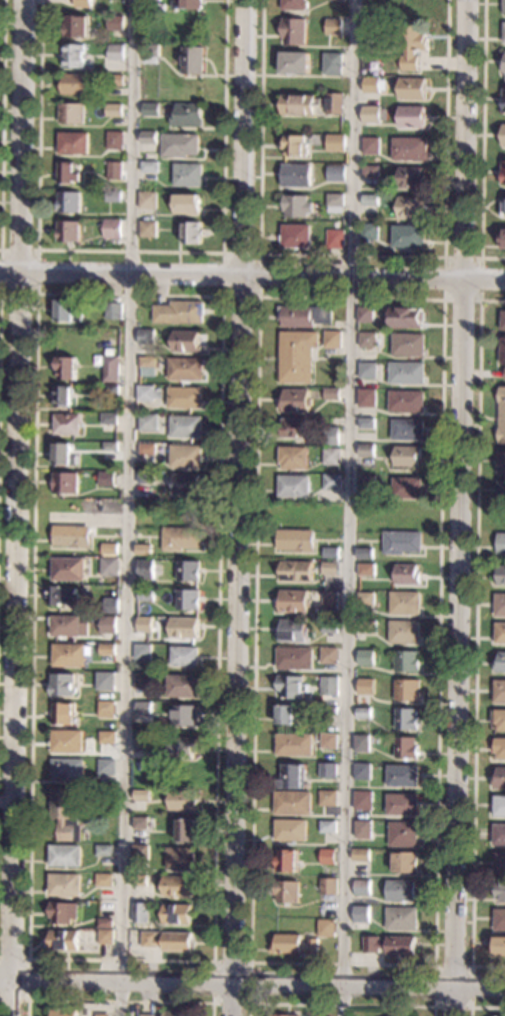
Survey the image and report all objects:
building: (152, 0)
building: (83, 4)
building: (187, 4)
building: (294, 5)
building: (504, 7)
building: (115, 23)
building: (385, 23)
building: (76, 26)
building: (334, 27)
building: (294, 31)
building: (504, 34)
building: (413, 43)
building: (115, 52)
building: (151, 53)
building: (73, 56)
building: (192, 60)
building: (295, 63)
building: (333, 64)
building: (504, 66)
building: (115, 80)
building: (76, 84)
building: (374, 85)
building: (413, 89)
building: (503, 100)
building: (299, 104)
building: (334, 104)
building: (114, 110)
building: (150, 110)
building: (71, 113)
building: (374, 114)
building: (187, 115)
building: (412, 117)
road: (2, 125)
building: (503, 135)
building: (148, 137)
road: (484, 139)
building: (115, 140)
building: (73, 143)
building: (335, 143)
building: (180, 145)
building: (371, 145)
building: (295, 146)
building: (410, 149)
building: (149, 167)
building: (114, 170)
building: (371, 171)
building: (336, 173)
building: (503, 173)
building: (68, 174)
building: (188, 175)
building: (296, 175)
building: (412, 177)
building: (114, 196)
building: (148, 200)
building: (370, 200)
building: (69, 202)
building: (335, 203)
building: (187, 204)
building: (297, 206)
building: (411, 207)
building: (503, 209)
building: (112, 229)
building: (148, 229)
building: (68, 231)
building: (370, 231)
building: (192, 233)
building: (296, 236)
building: (409, 236)
building: (335, 239)
building: (503, 239)
road: (132, 250)
road: (259, 254)
road: (354, 255)
road: (482, 257)
road: (252, 275)
road: (37, 292)
road: (221, 296)
road: (443, 299)
building: (69, 311)
building: (113, 311)
building: (179, 313)
building: (366, 315)
building: (305, 316)
building: (406, 316)
building: (503, 321)
building: (145, 337)
building: (333, 339)
building: (368, 339)
building: (186, 341)
building: (408, 344)
building: (502, 350)
building: (297, 356)
building: (147, 366)
building: (66, 368)
building: (110, 369)
building: (185, 369)
building: (368, 370)
building: (407, 373)
building: (111, 389)
building: (148, 393)
building: (332, 394)
building: (63, 396)
building: (184, 397)
building: (367, 397)
building: (296, 401)
building: (407, 402)
building: (502, 415)
building: (108, 418)
building: (148, 422)
building: (367, 423)
building: (67, 424)
building: (186, 427)
building: (295, 428)
building: (408, 429)
building: (332, 436)
building: (110, 446)
building: (147, 449)
building: (367, 450)
building: (64, 455)
building: (186, 456)
building: (332, 456)
building: (408, 456)
building: (293, 457)
building: (502, 462)
building: (107, 478)
building: (145, 478)
building: (367, 481)
building: (333, 482)
building: (65, 483)
building: (186, 485)
building: (293, 486)
building: (407, 488)
building: (502, 491)
road: (129, 507)
road: (237, 507)
road: (16, 508)
road: (350, 508)
road: (464, 508)
building: (72, 536)
building: (181, 538)
building: (296, 540)
building: (402, 542)
building: (501, 543)
building: (109, 549)
building: (143, 550)
building: (331, 552)
building: (365, 554)
building: (110, 567)
building: (330, 568)
building: (68, 569)
building: (145, 569)
building: (367, 570)
building: (188, 571)
building: (295, 571)
building: (408, 574)
building: (501, 575)
building: (145, 595)
building: (62, 596)
building: (366, 599)
building: (187, 600)
building: (330, 600)
building: (293, 602)
building: (405, 603)
building: (110, 605)
building: (500, 605)
building: (108, 621)
building: (144, 624)
building: (68, 627)
building: (330, 627)
building: (368, 627)
building: (184, 628)
building: (293, 630)
building: (404, 632)
building: (500, 633)
road: (476, 638)
building: (106, 649)
building: (142, 652)
building: (68, 655)
building: (329, 655)
building: (184, 656)
building: (366, 657)
building: (295, 659)
building: (407, 661)
building: (500, 662)
building: (108, 668)
building: (104, 681)
building: (143, 681)
building: (330, 682)
building: (62, 685)
building: (182, 686)
building: (291, 687)
building: (366, 687)
building: (407, 690)
building: (499, 691)
building: (143, 708)
building: (106, 709)
building: (330, 710)
building: (363, 712)
building: (62, 713)
building: (184, 715)
building: (285, 715)
building: (407, 719)
building: (500, 719)
building: (107, 737)
building: (143, 740)
building: (328, 741)
building: (67, 742)
building: (361, 743)
building: (293, 745)
building: (182, 748)
building: (406, 748)
building: (500, 748)
building: (106, 767)
building: (67, 770)
building: (327, 771)
building: (362, 771)
building: (402, 776)
building: (291, 777)
building: (499, 778)
building: (141, 795)
building: (328, 798)
building: (182, 800)
building: (363, 800)
building: (292, 803)
building: (402, 804)
building: (499, 806)
building: (65, 814)
building: (140, 823)
building: (328, 827)
building: (363, 829)
building: (290, 830)
building: (186, 831)
building: (403, 834)
building: (499, 834)
building: (104, 850)
building: (140, 853)
building: (361, 855)
building: (65, 856)
building: (327, 856)
building: (179, 858)
building: (285, 861)
building: (405, 862)
building: (500, 863)
building: (104, 880)
building: (139, 880)
building: (64, 885)
building: (177, 886)
building: (328, 886)
building: (362, 887)
building: (401, 891)
building: (500, 891)
building: (286, 892)
building: (361, 911)
building: (62, 912)
building: (143, 912)
building: (176, 914)
building: (401, 918)
building: (499, 920)
building: (104, 923)
building: (326, 928)
building: (100, 937)
building: (62, 940)
building: (167, 941)
building: (293, 944)
building: (390, 945)
building: (500, 946)
road: (250, 963)
road: (28, 980)
road: (252, 983)
road: (119, 1001)
road: (342, 1004)
road: (435, 1005)
road: (484, 1007)
building: (63, 1013)
building: (101, 1014)
building: (170, 1014)
building: (282, 1015)
building: (398, 1015)

